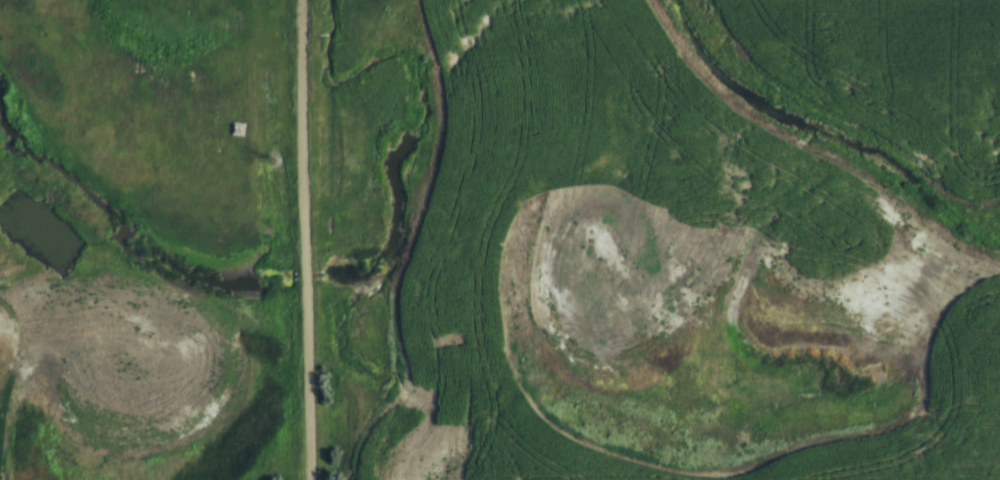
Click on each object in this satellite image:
road: (318, 240)

